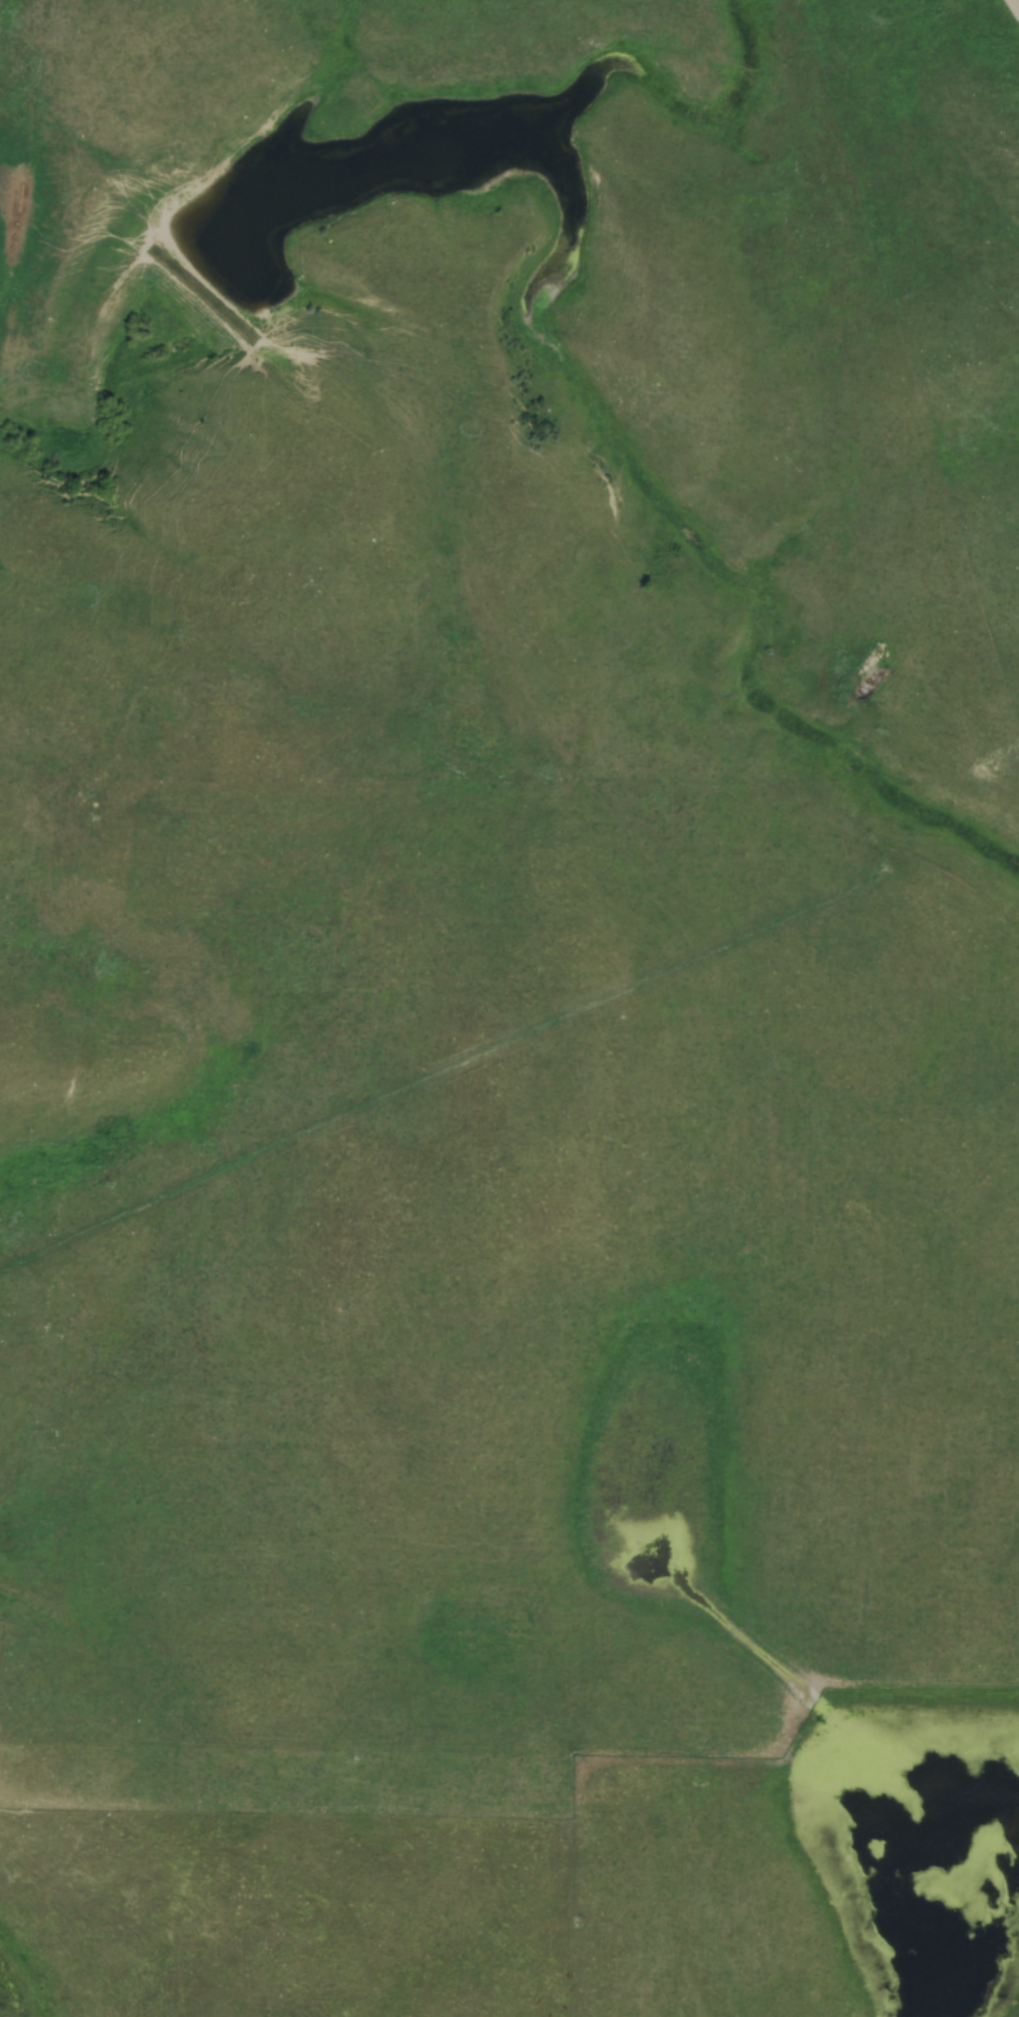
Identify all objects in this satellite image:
road: (1018, 1)

